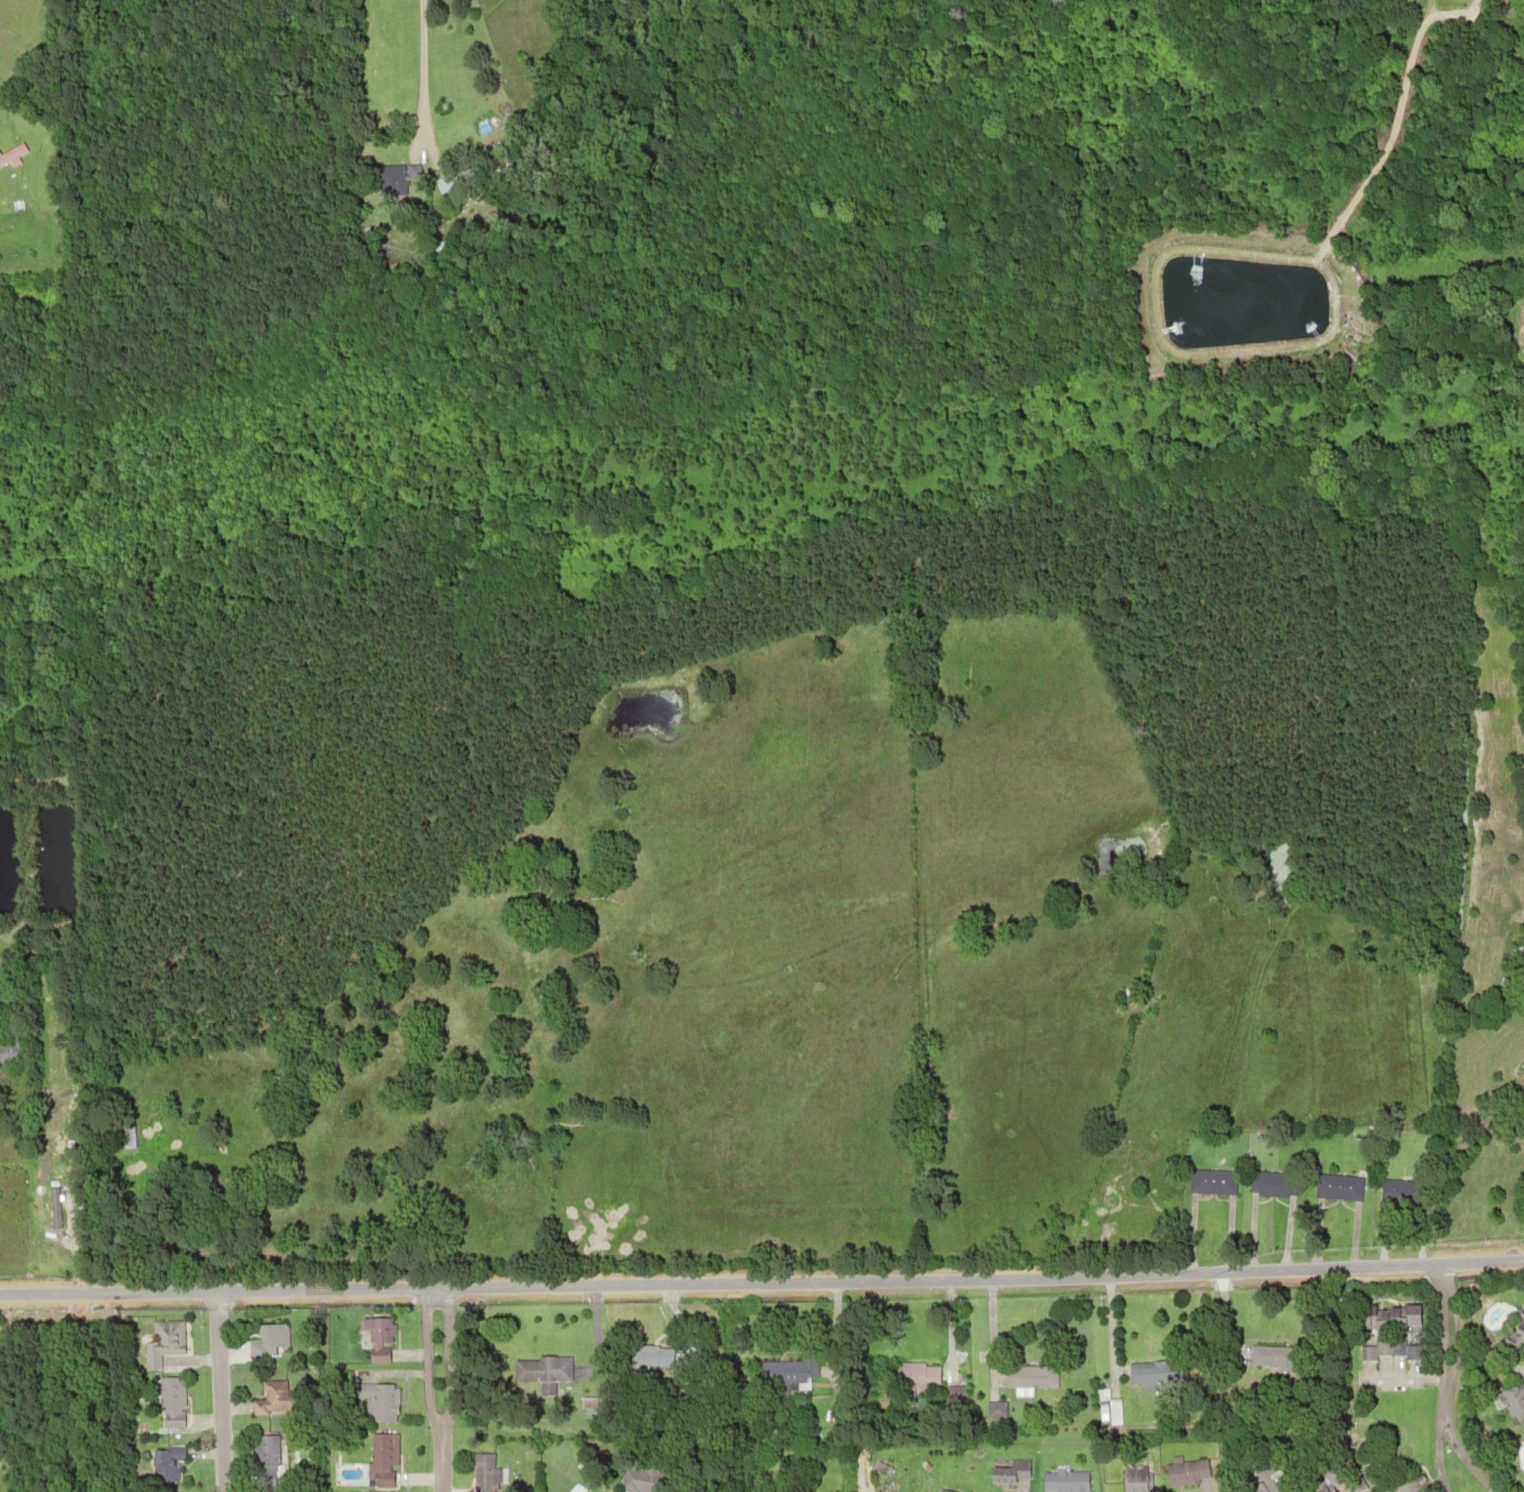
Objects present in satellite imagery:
building: (11, 153)
building: (414, 172)
building: (390, 179)
building: (447, 182)
building: (467, 190)
building: (55, 200)
building: (15, 204)
building: (363, 231)
building: (439, 246)
building: (1522, 331)
building: (8, 1047)
building: (118, 1133)
building: (1211, 1181)
building: (1271, 1182)
building: (1341, 1188)
building: (1402, 1192)
road: (1440, 1275)
road: (762, 1282)
building: (1394, 1317)
building: (1515, 1331)
building: (167, 1337)
building: (380, 1339)
building: (273, 1340)
road: (1440, 1345)
road: (1453, 1345)
building: (658, 1357)
building: (1278, 1359)
building: (1389, 1361)
building: (543, 1370)
building: (790, 1373)
road: (448, 1375)
building: (1156, 1375)
road: (424, 1376)
building: (1034, 1376)
building: (911, 1378)
road: (217, 1391)
building: (273, 1397)
building: (172, 1398)
building: (1515, 1399)
building: (383, 1403)
building: (995, 1410)
road: (1436, 1449)
building: (169, 1453)
road: (1455, 1454)
building: (266, 1458)
building: (383, 1460)
building: (1337, 1463)
building: (1190, 1469)
building: (482, 1472)
building: (1010, 1474)
road: (438, 1477)
building: (641, 1479)
building: (1066, 1480)
building: (1136, 1481)
building: (1411, 1486)
building: (1268, 1487)
building: (1327, 1490)
building: (941, 1491)

